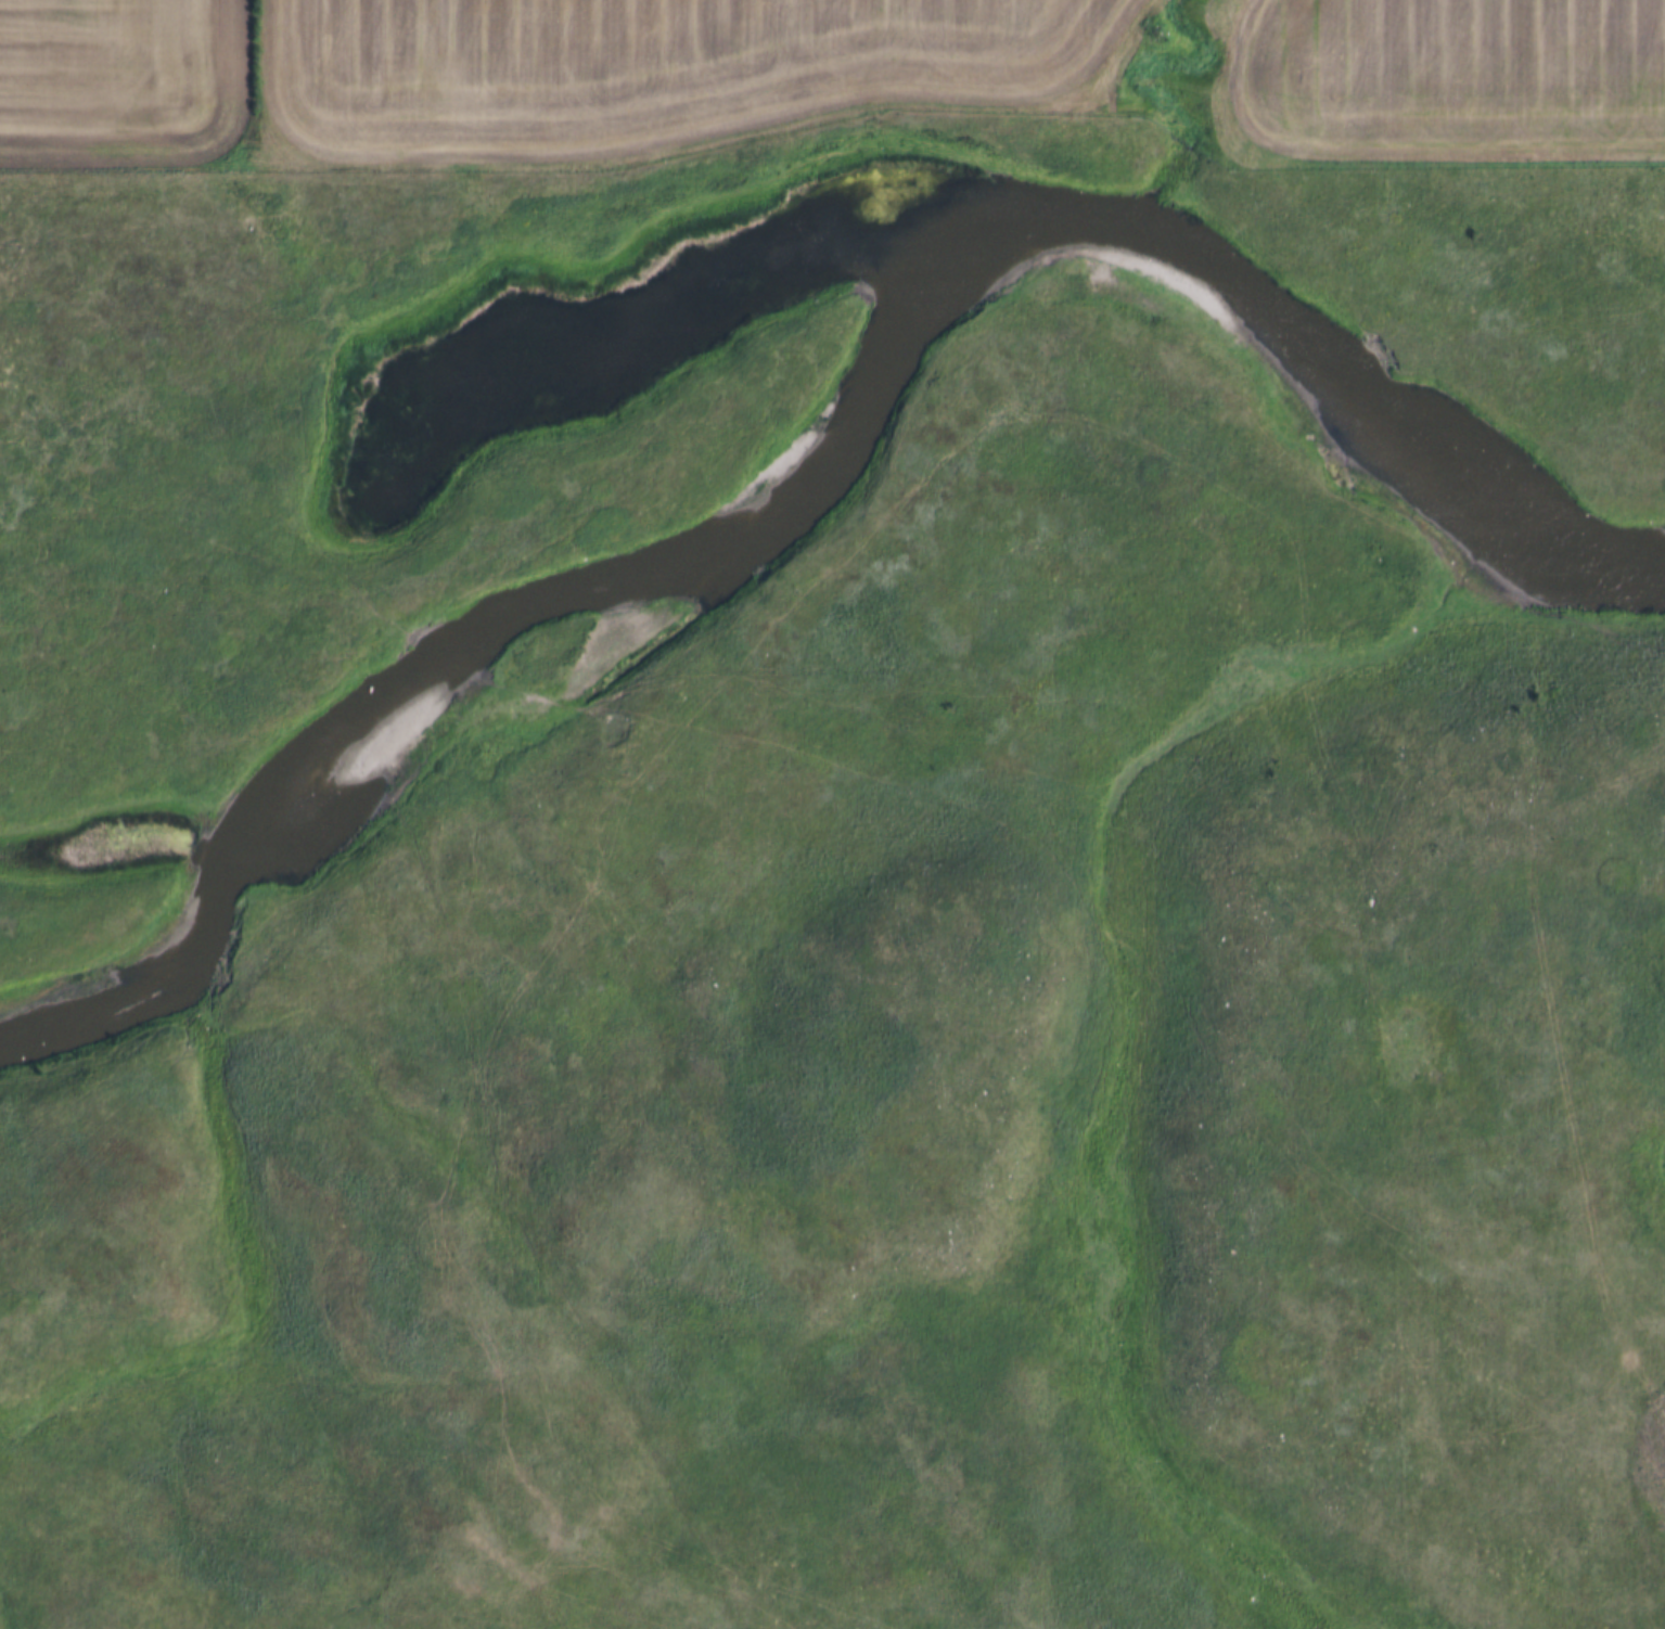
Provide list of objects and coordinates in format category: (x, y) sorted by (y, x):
river: (836, 460)

